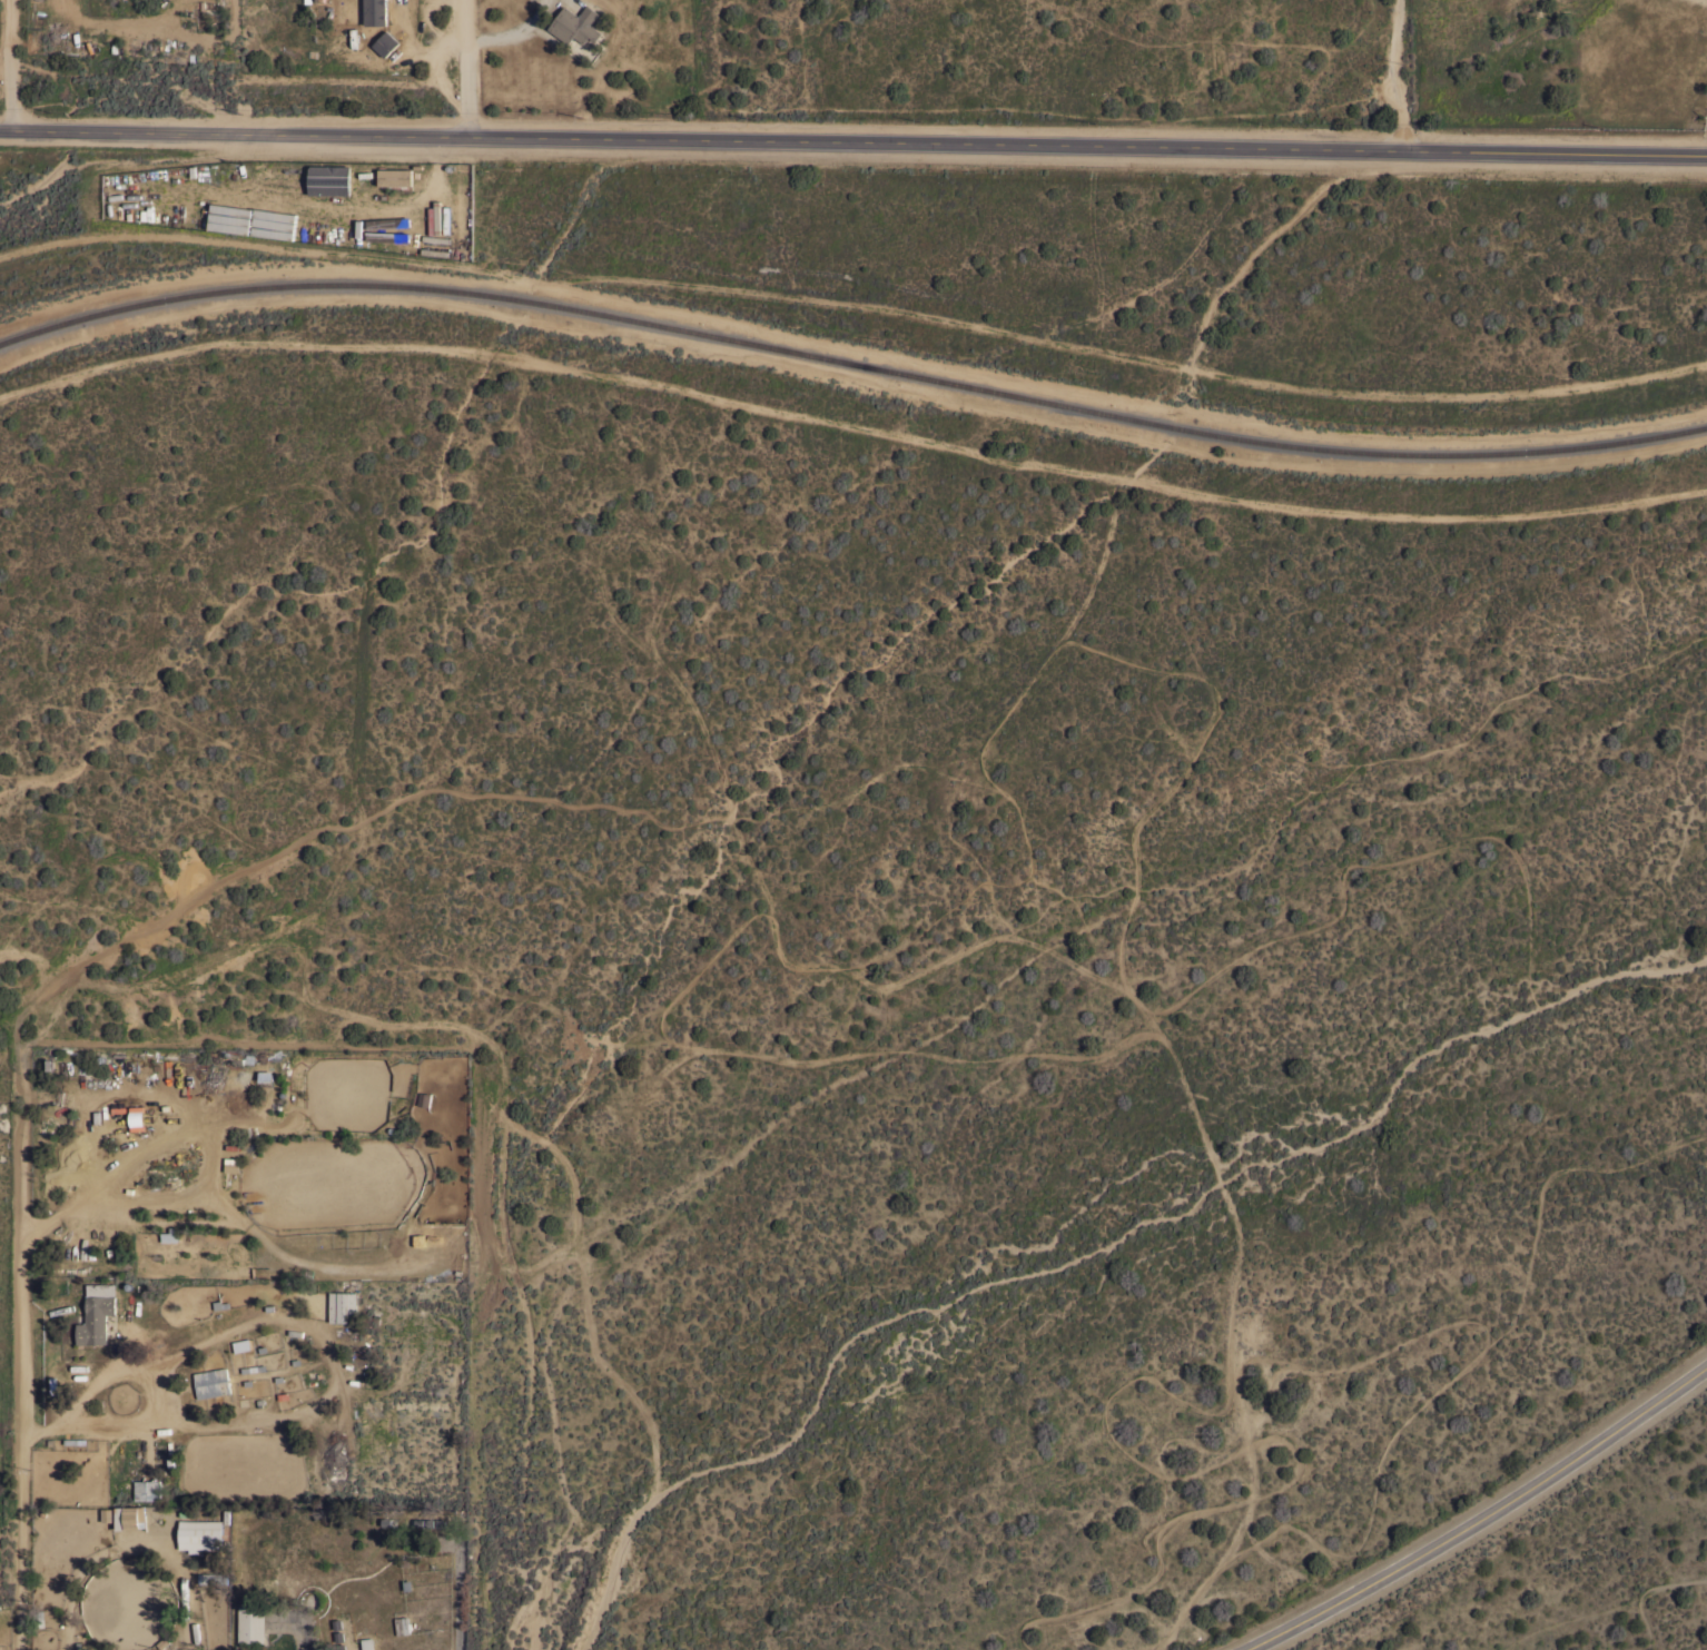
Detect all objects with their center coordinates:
building: (374, 12)
building: (574, 24)
building: (384, 43)
road: (13, 66)
road: (465, 67)
road: (1399, 76)
road: (854, 142)
building: (395, 176)
building: (328, 179)
building: (436, 238)
building: (434, 251)
railway: (851, 360)
building: (169, 1236)
building: (334, 1256)
building: (343, 1306)
building: (96, 1313)
road: (23, 1357)
building: (211, 1382)
building: (147, 1489)
building: (129, 1518)
road: (1483, 1518)
building: (425, 1523)
building: (200, 1533)
building: (250, 1623)
building: (402, 1624)
road: (306, 1638)
building: (366, 1643)

